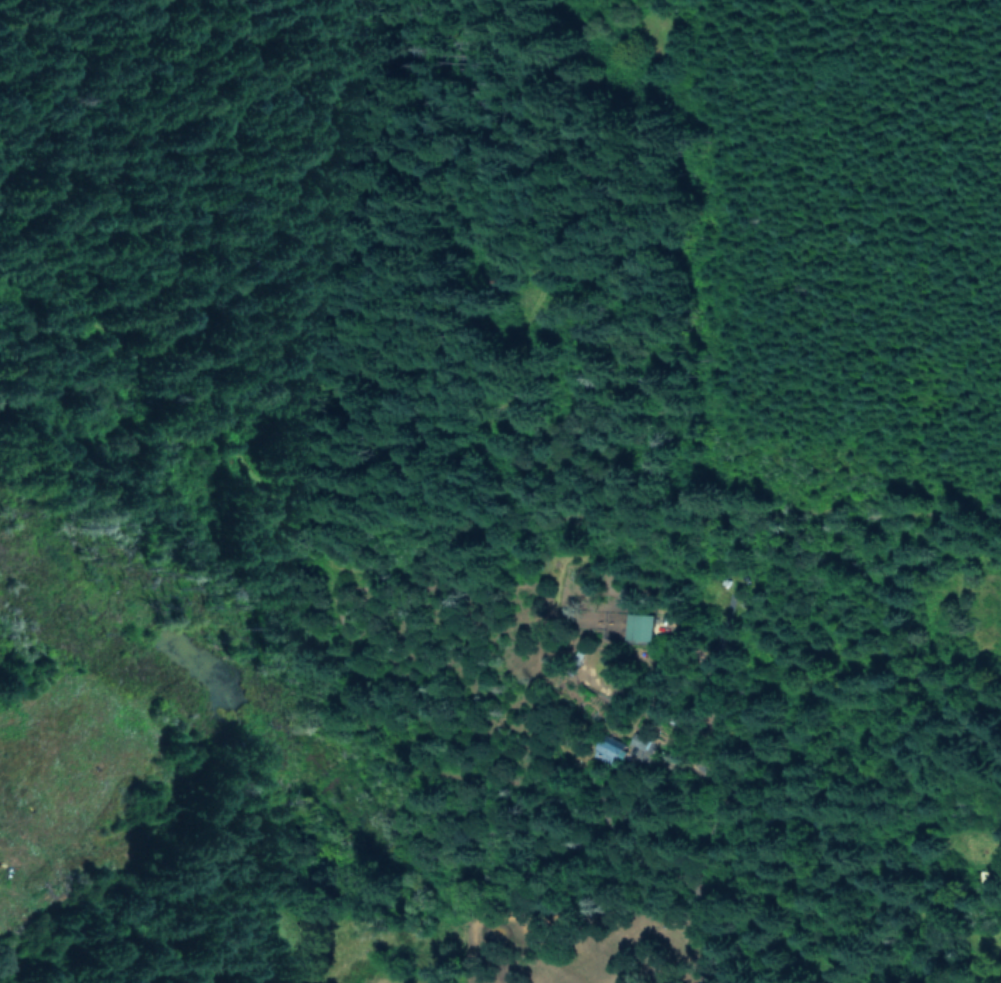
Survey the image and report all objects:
building: (639, 625)
building: (610, 751)

